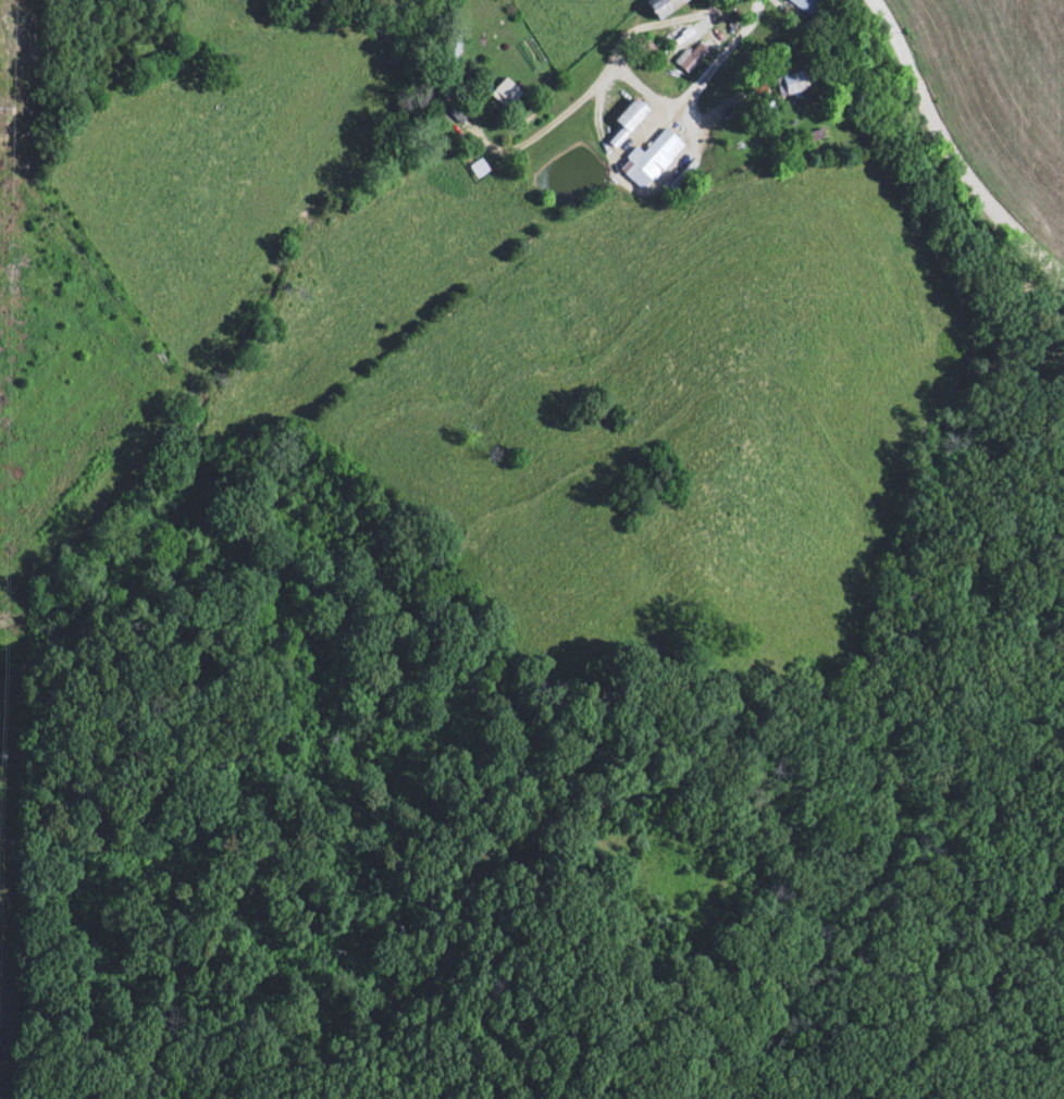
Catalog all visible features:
building: (664, 8)
building: (807, 9)
building: (789, 86)
building: (629, 122)
building: (455, 125)
road: (539, 138)
road: (477, 145)
road: (954, 151)
building: (651, 161)

